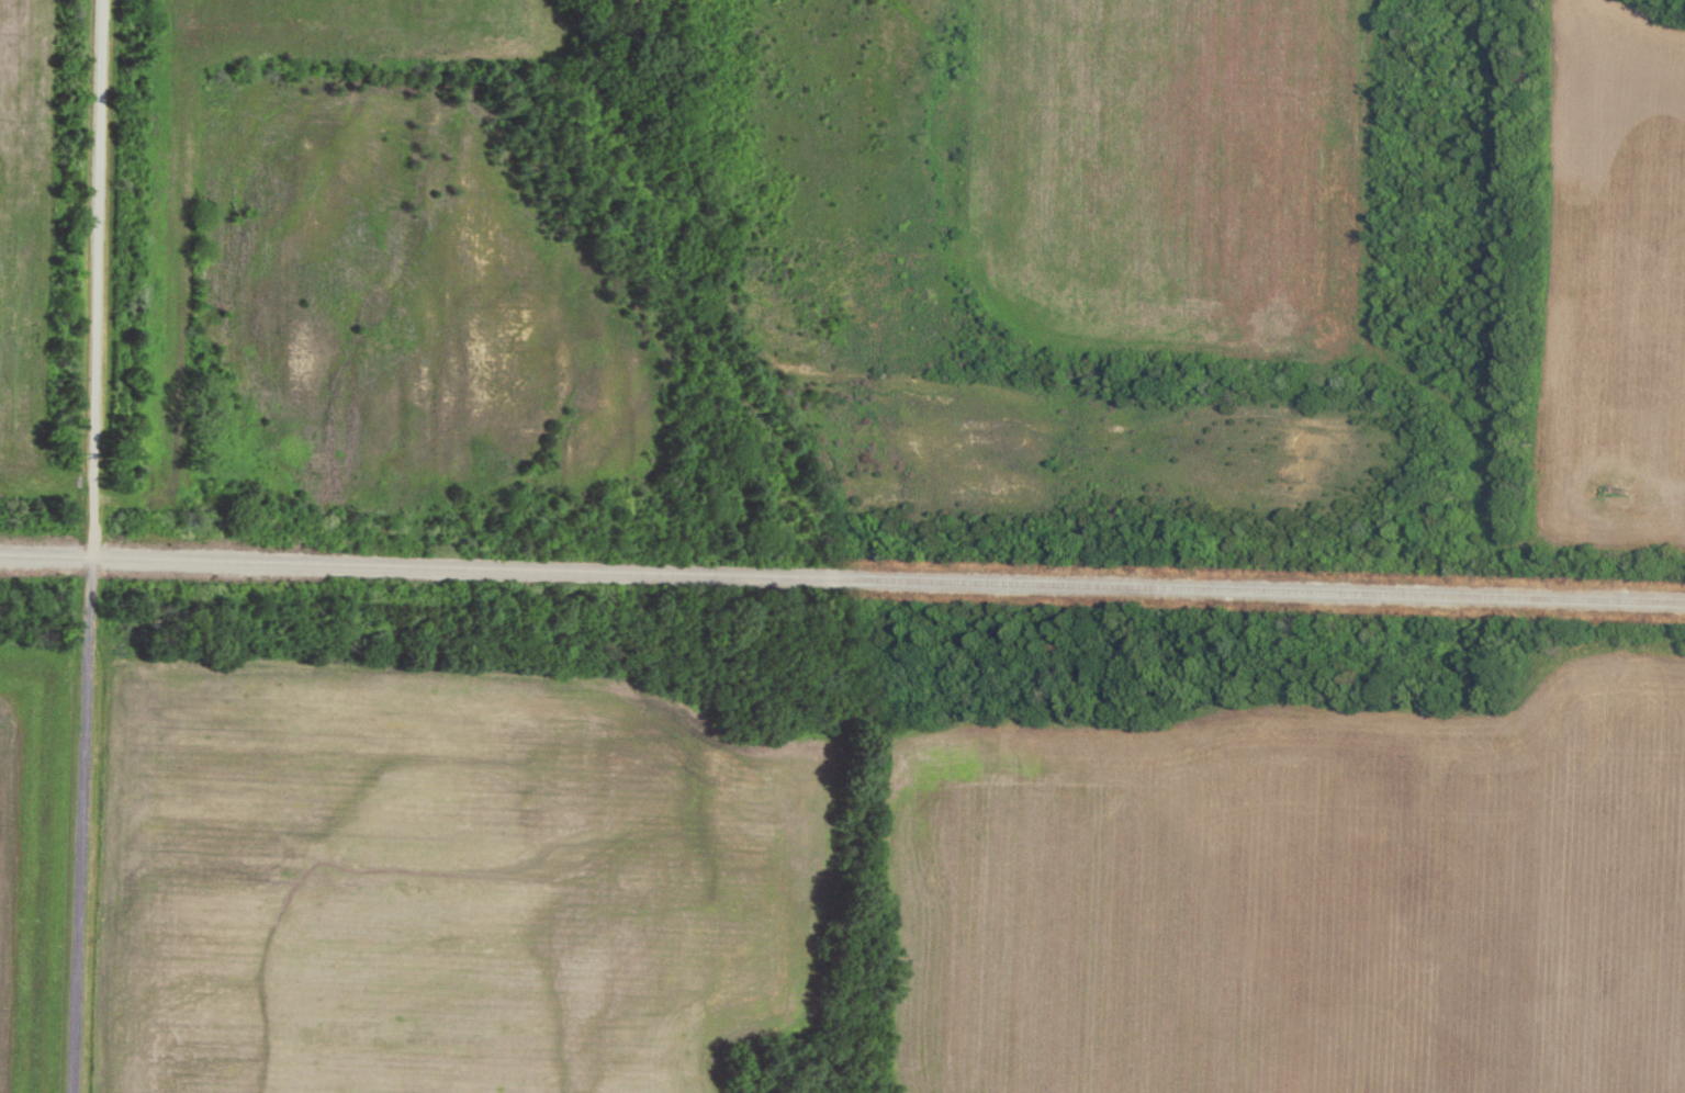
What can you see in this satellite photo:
road: (92, 546)
railway: (842, 578)

